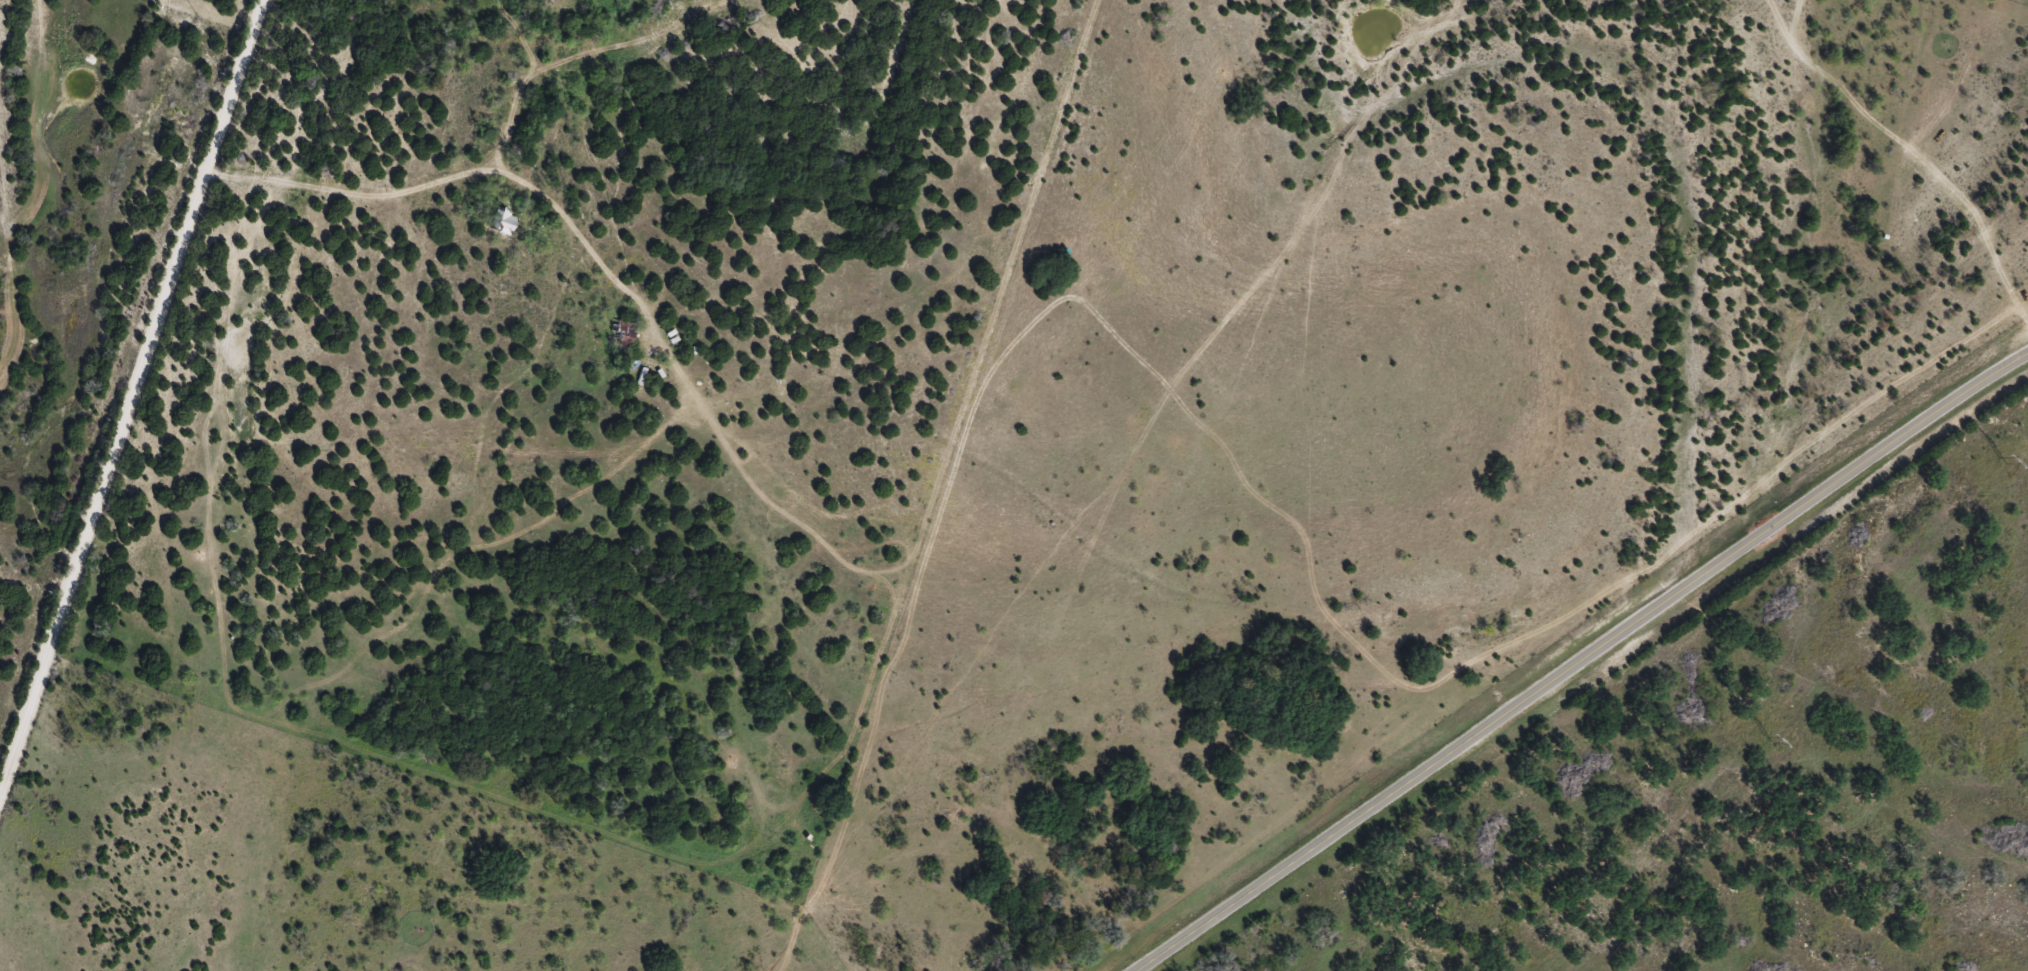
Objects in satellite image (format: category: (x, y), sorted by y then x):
road: (129, 447)
power tower: (1999, 458)
road: (1580, 660)
power tower: (1762, 739)

